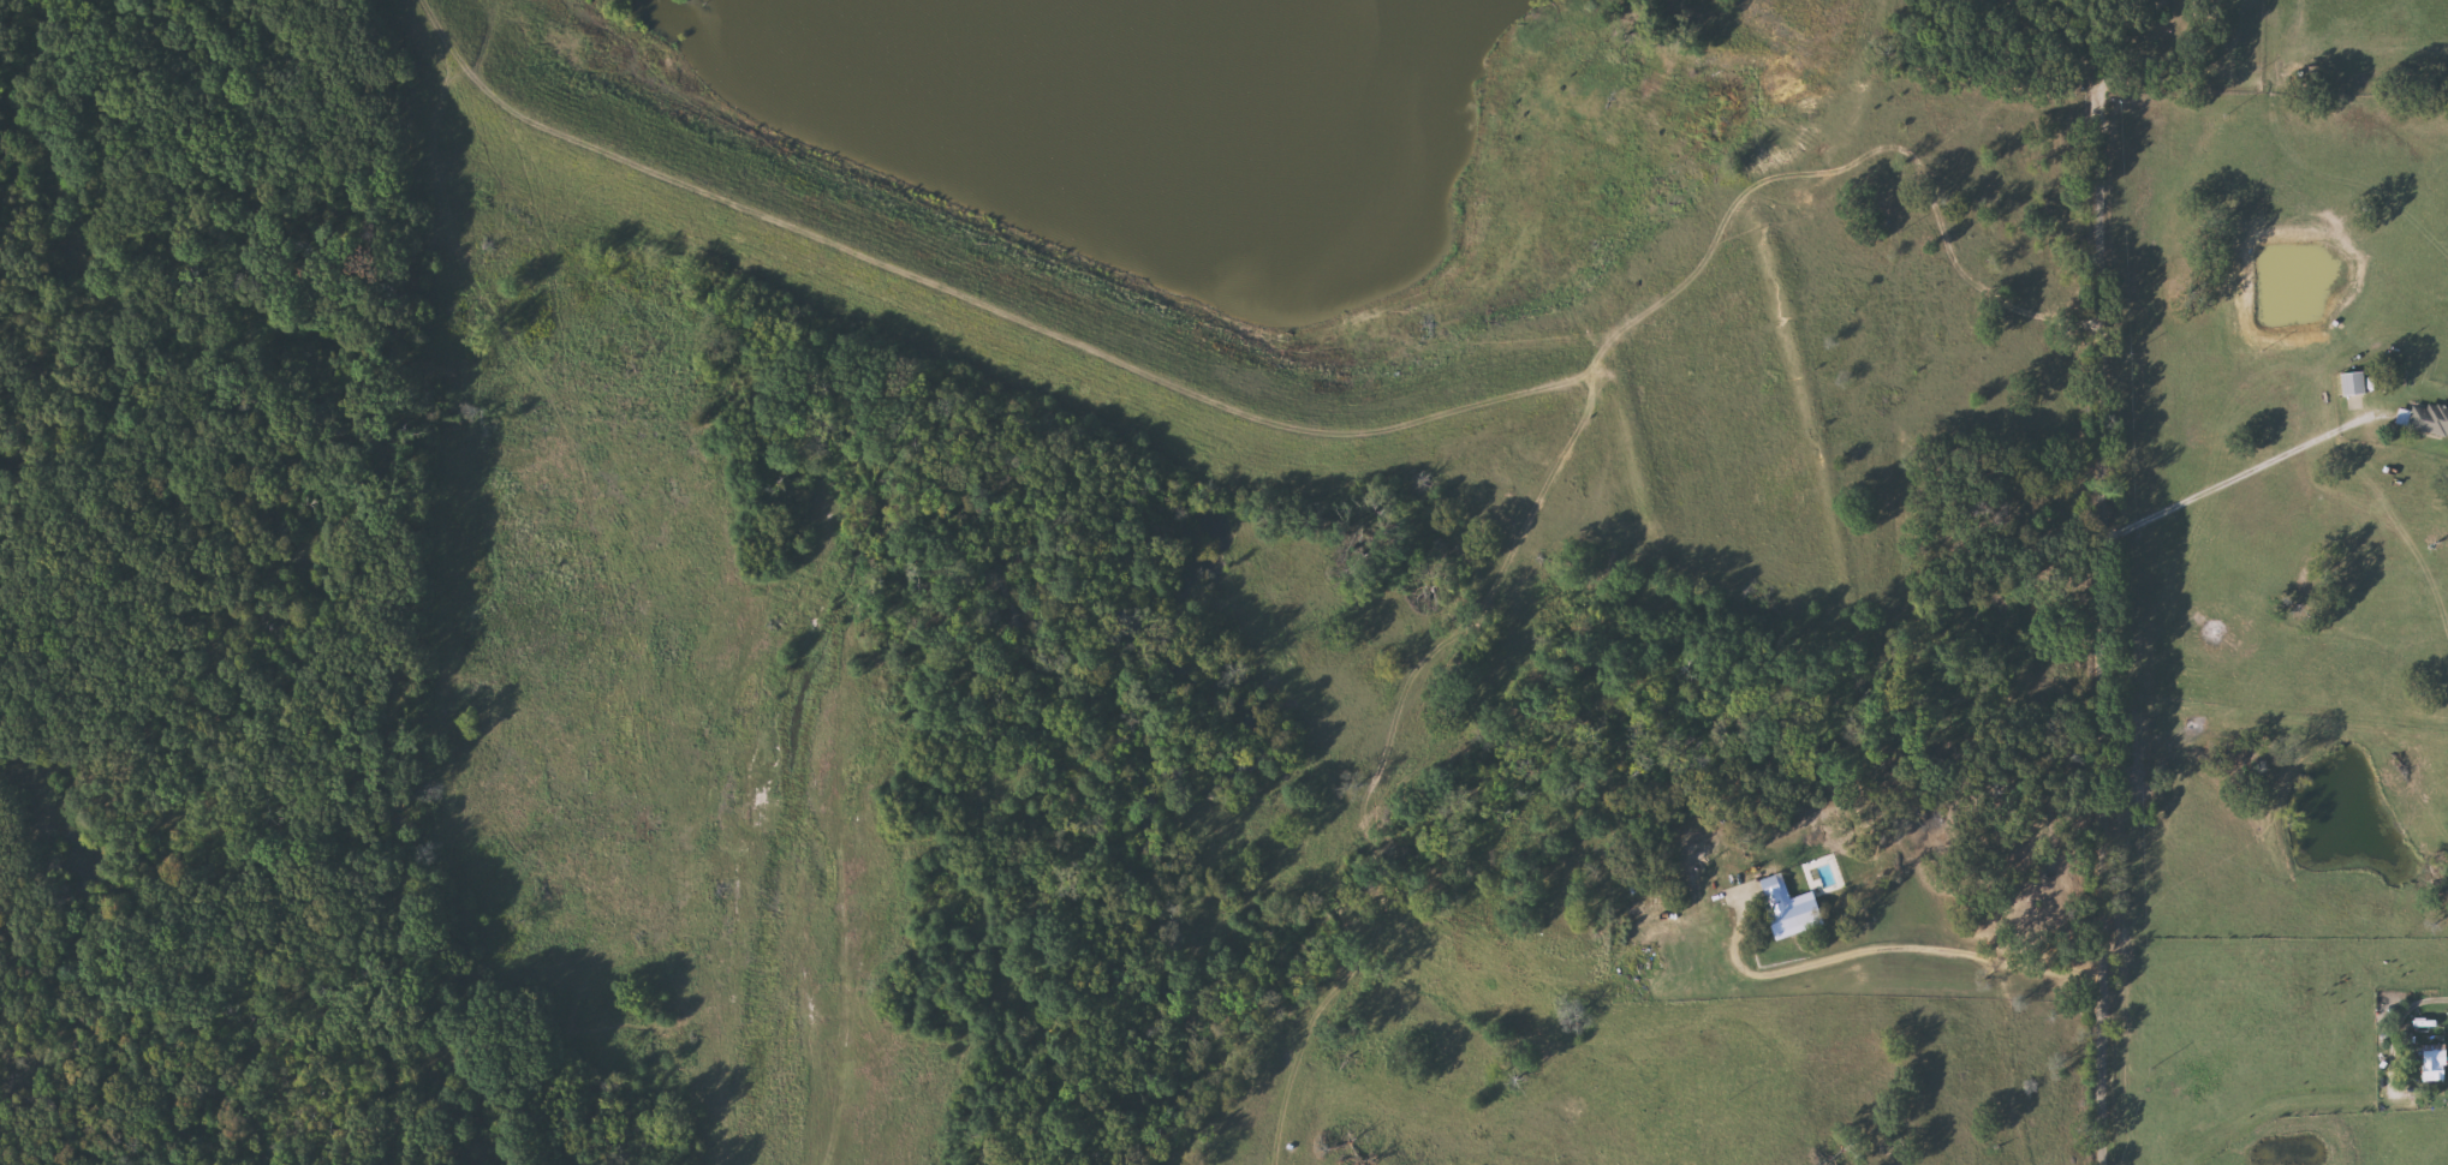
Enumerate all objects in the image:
road: (2126, 49)
building: (2357, 383)
building: (2426, 418)
road: (2230, 477)
road: (2102, 627)
building: (1791, 907)
road: (1954, 962)
road: (2396, 1026)
building: (2436, 1061)

